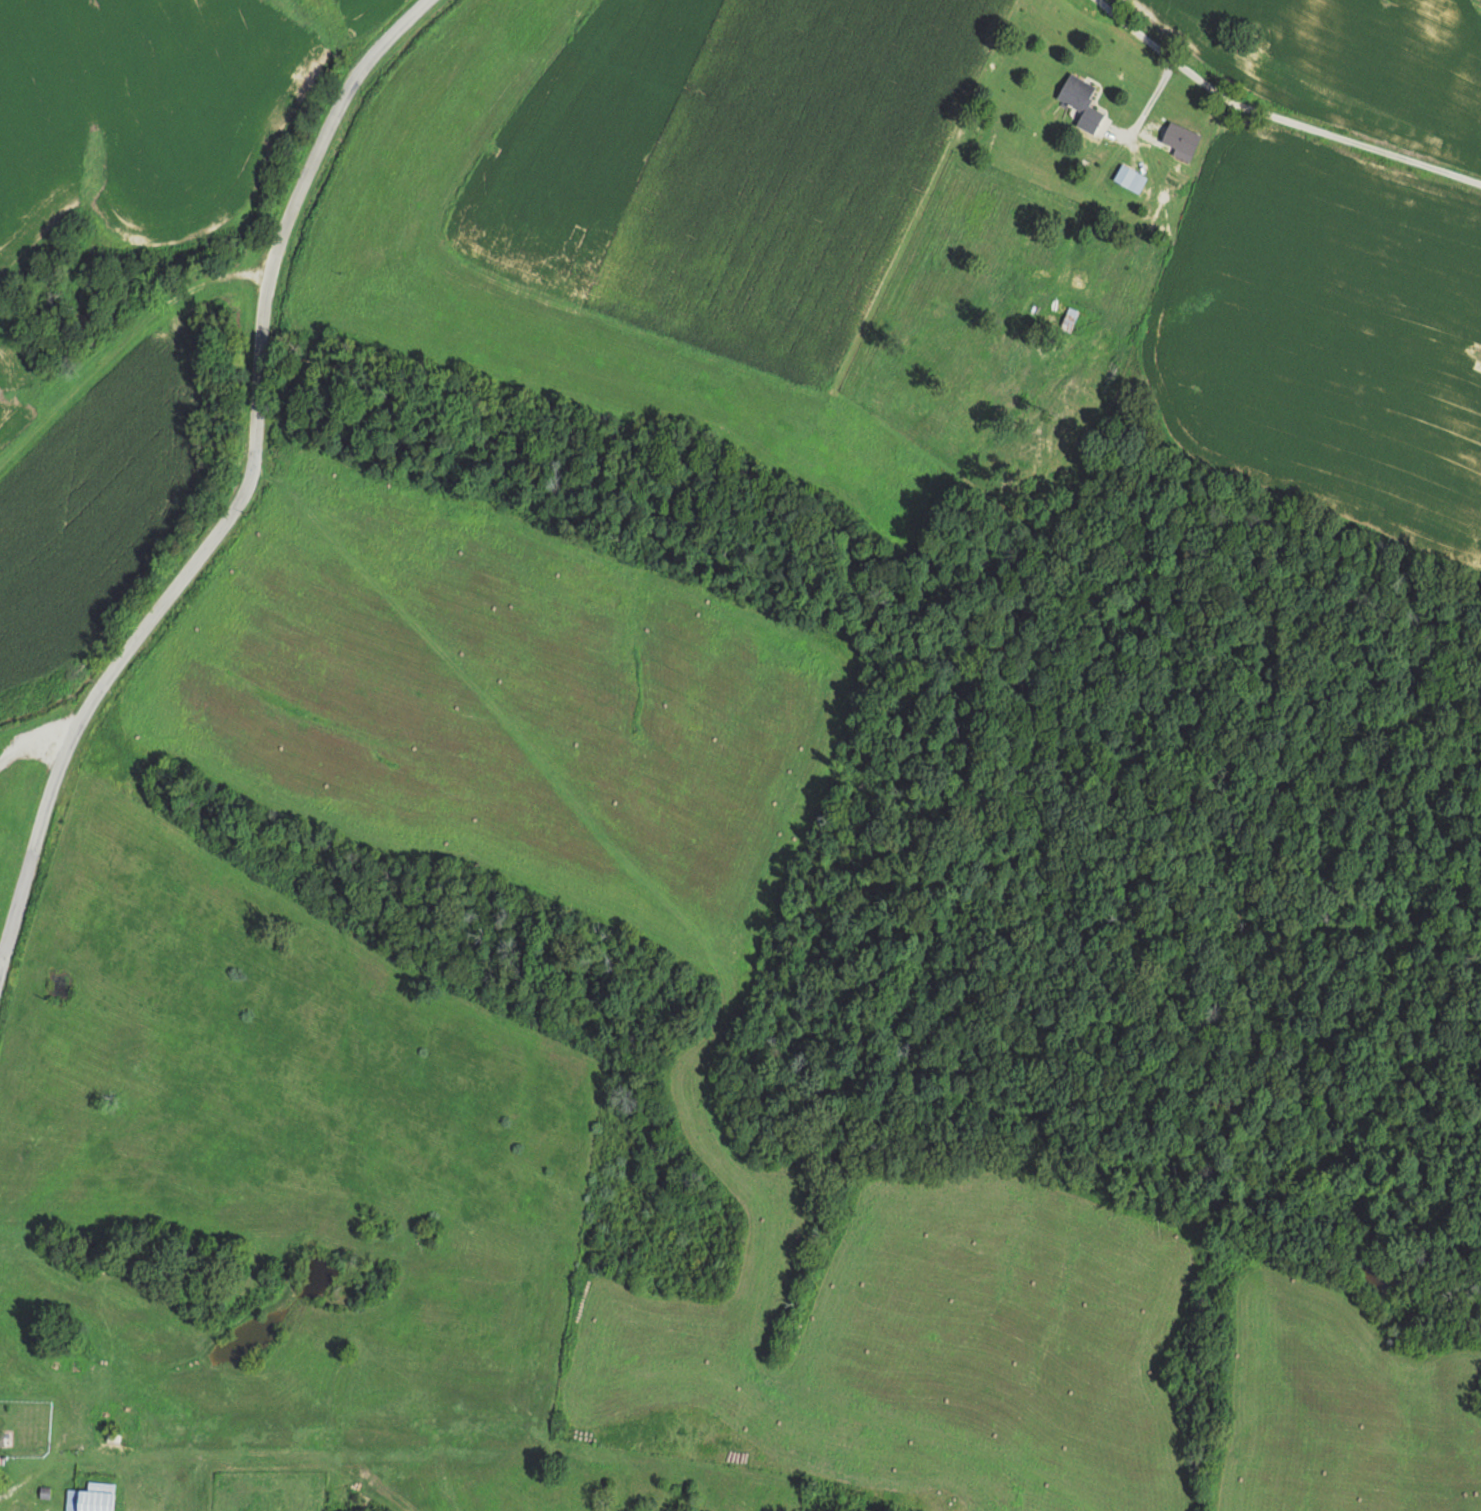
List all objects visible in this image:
building: (1078, 101)
road: (1243, 146)
building: (1128, 178)
road: (1373, 400)
road: (233, 527)
building: (89, 1497)

